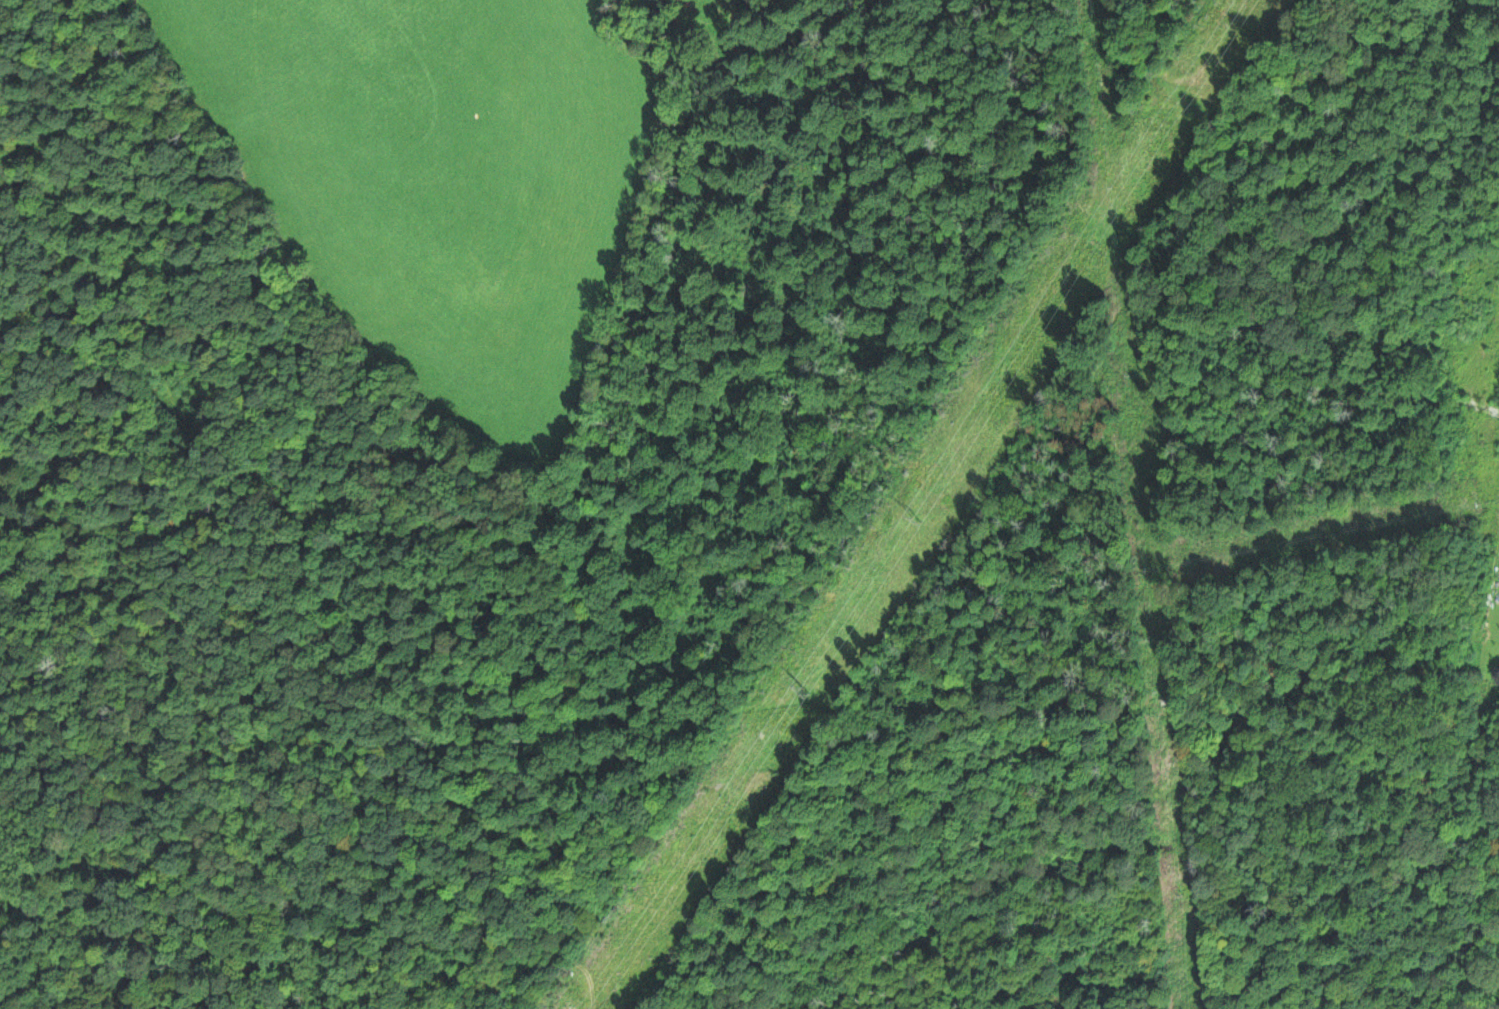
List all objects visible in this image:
power tower: (918, 518)
power tower: (810, 698)

